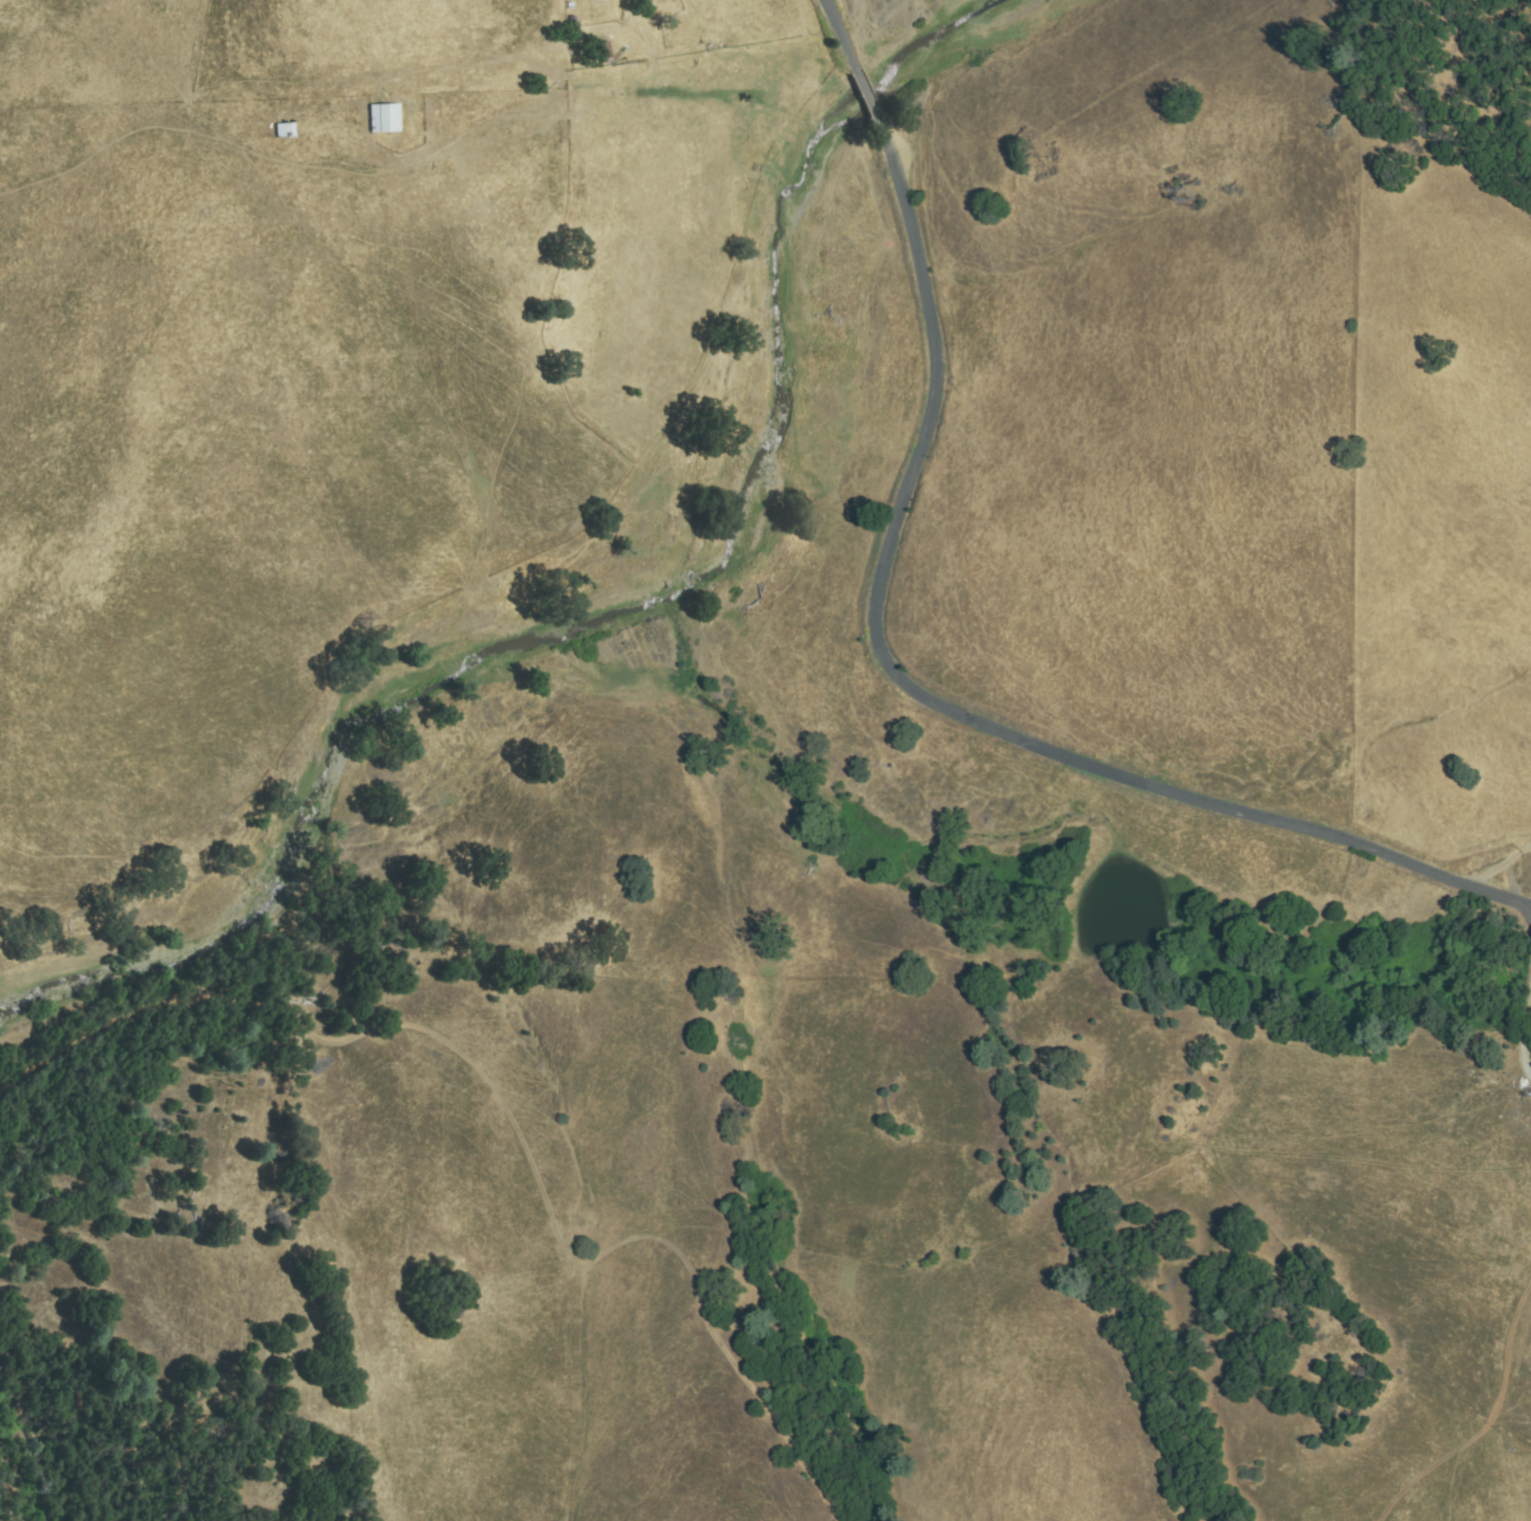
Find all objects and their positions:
building: (592, 0)
building: (604, 53)
building: (384, 119)
building: (283, 131)
road: (886, 663)
road: (1504, 864)
road: (1524, 1033)

